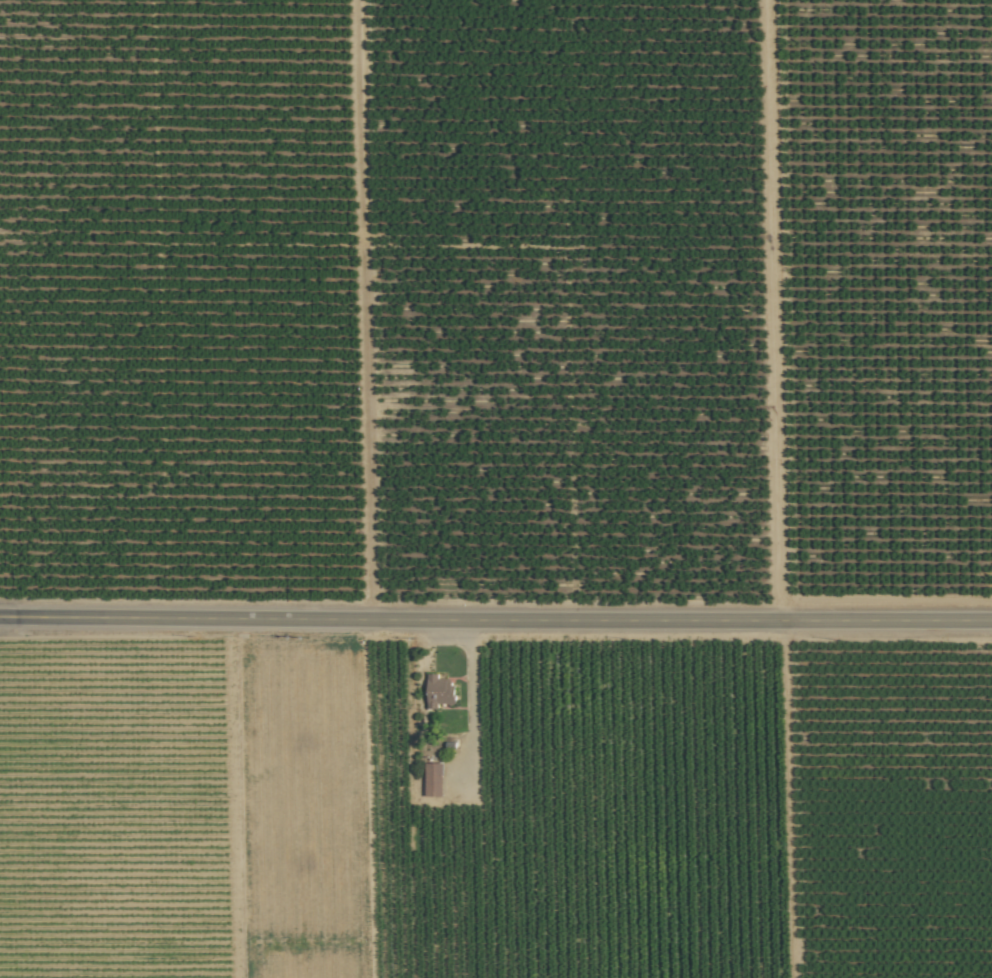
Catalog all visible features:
road: (496, 617)
building: (439, 690)
building: (433, 779)

